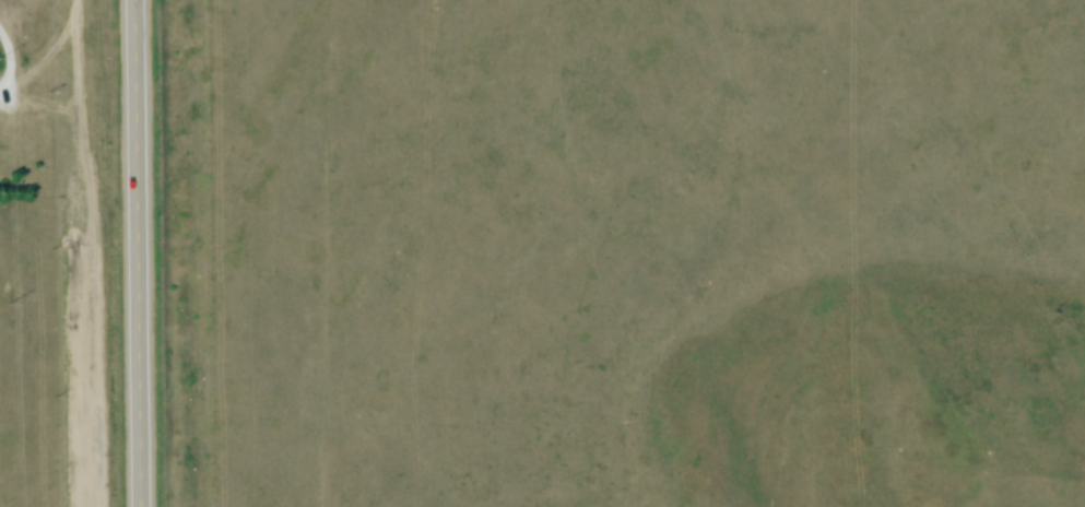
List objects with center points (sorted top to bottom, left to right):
road: (78, 253)
road: (132, 253)

